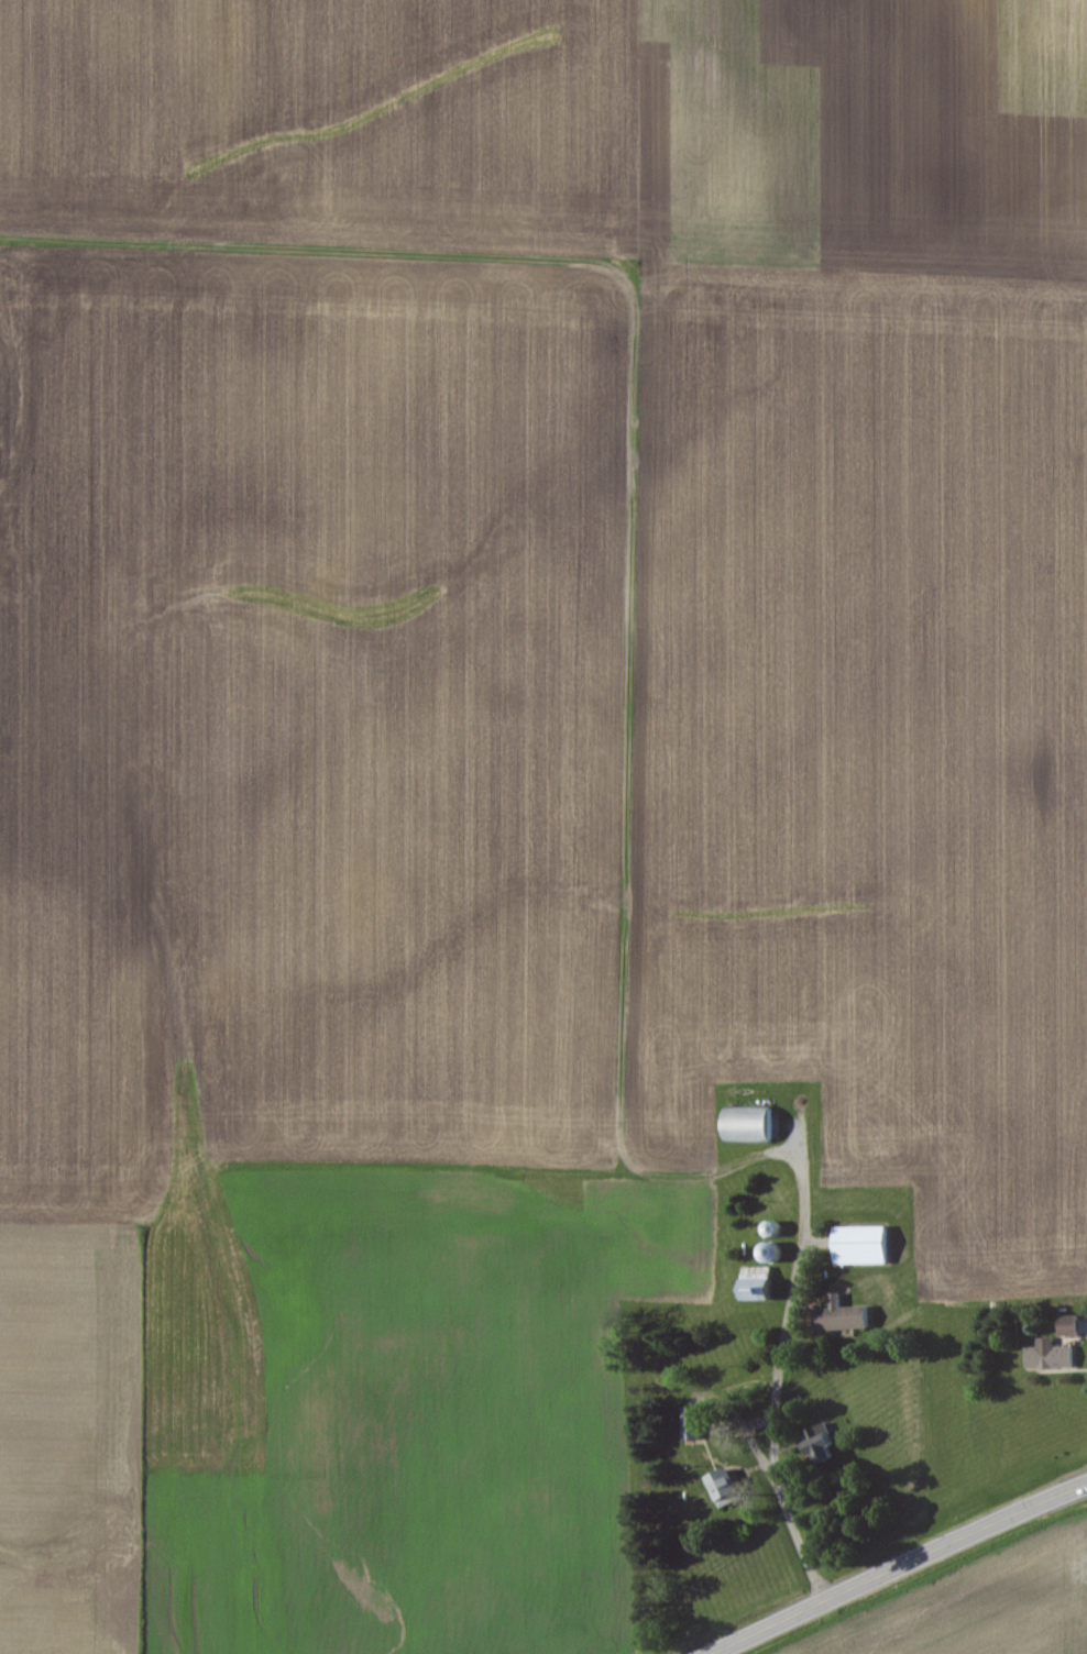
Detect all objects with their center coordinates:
building: (754, 1126)
building: (866, 1247)
building: (1073, 1326)
building: (1053, 1357)
road: (783, 1378)
building: (728, 1489)
road: (886, 1563)

